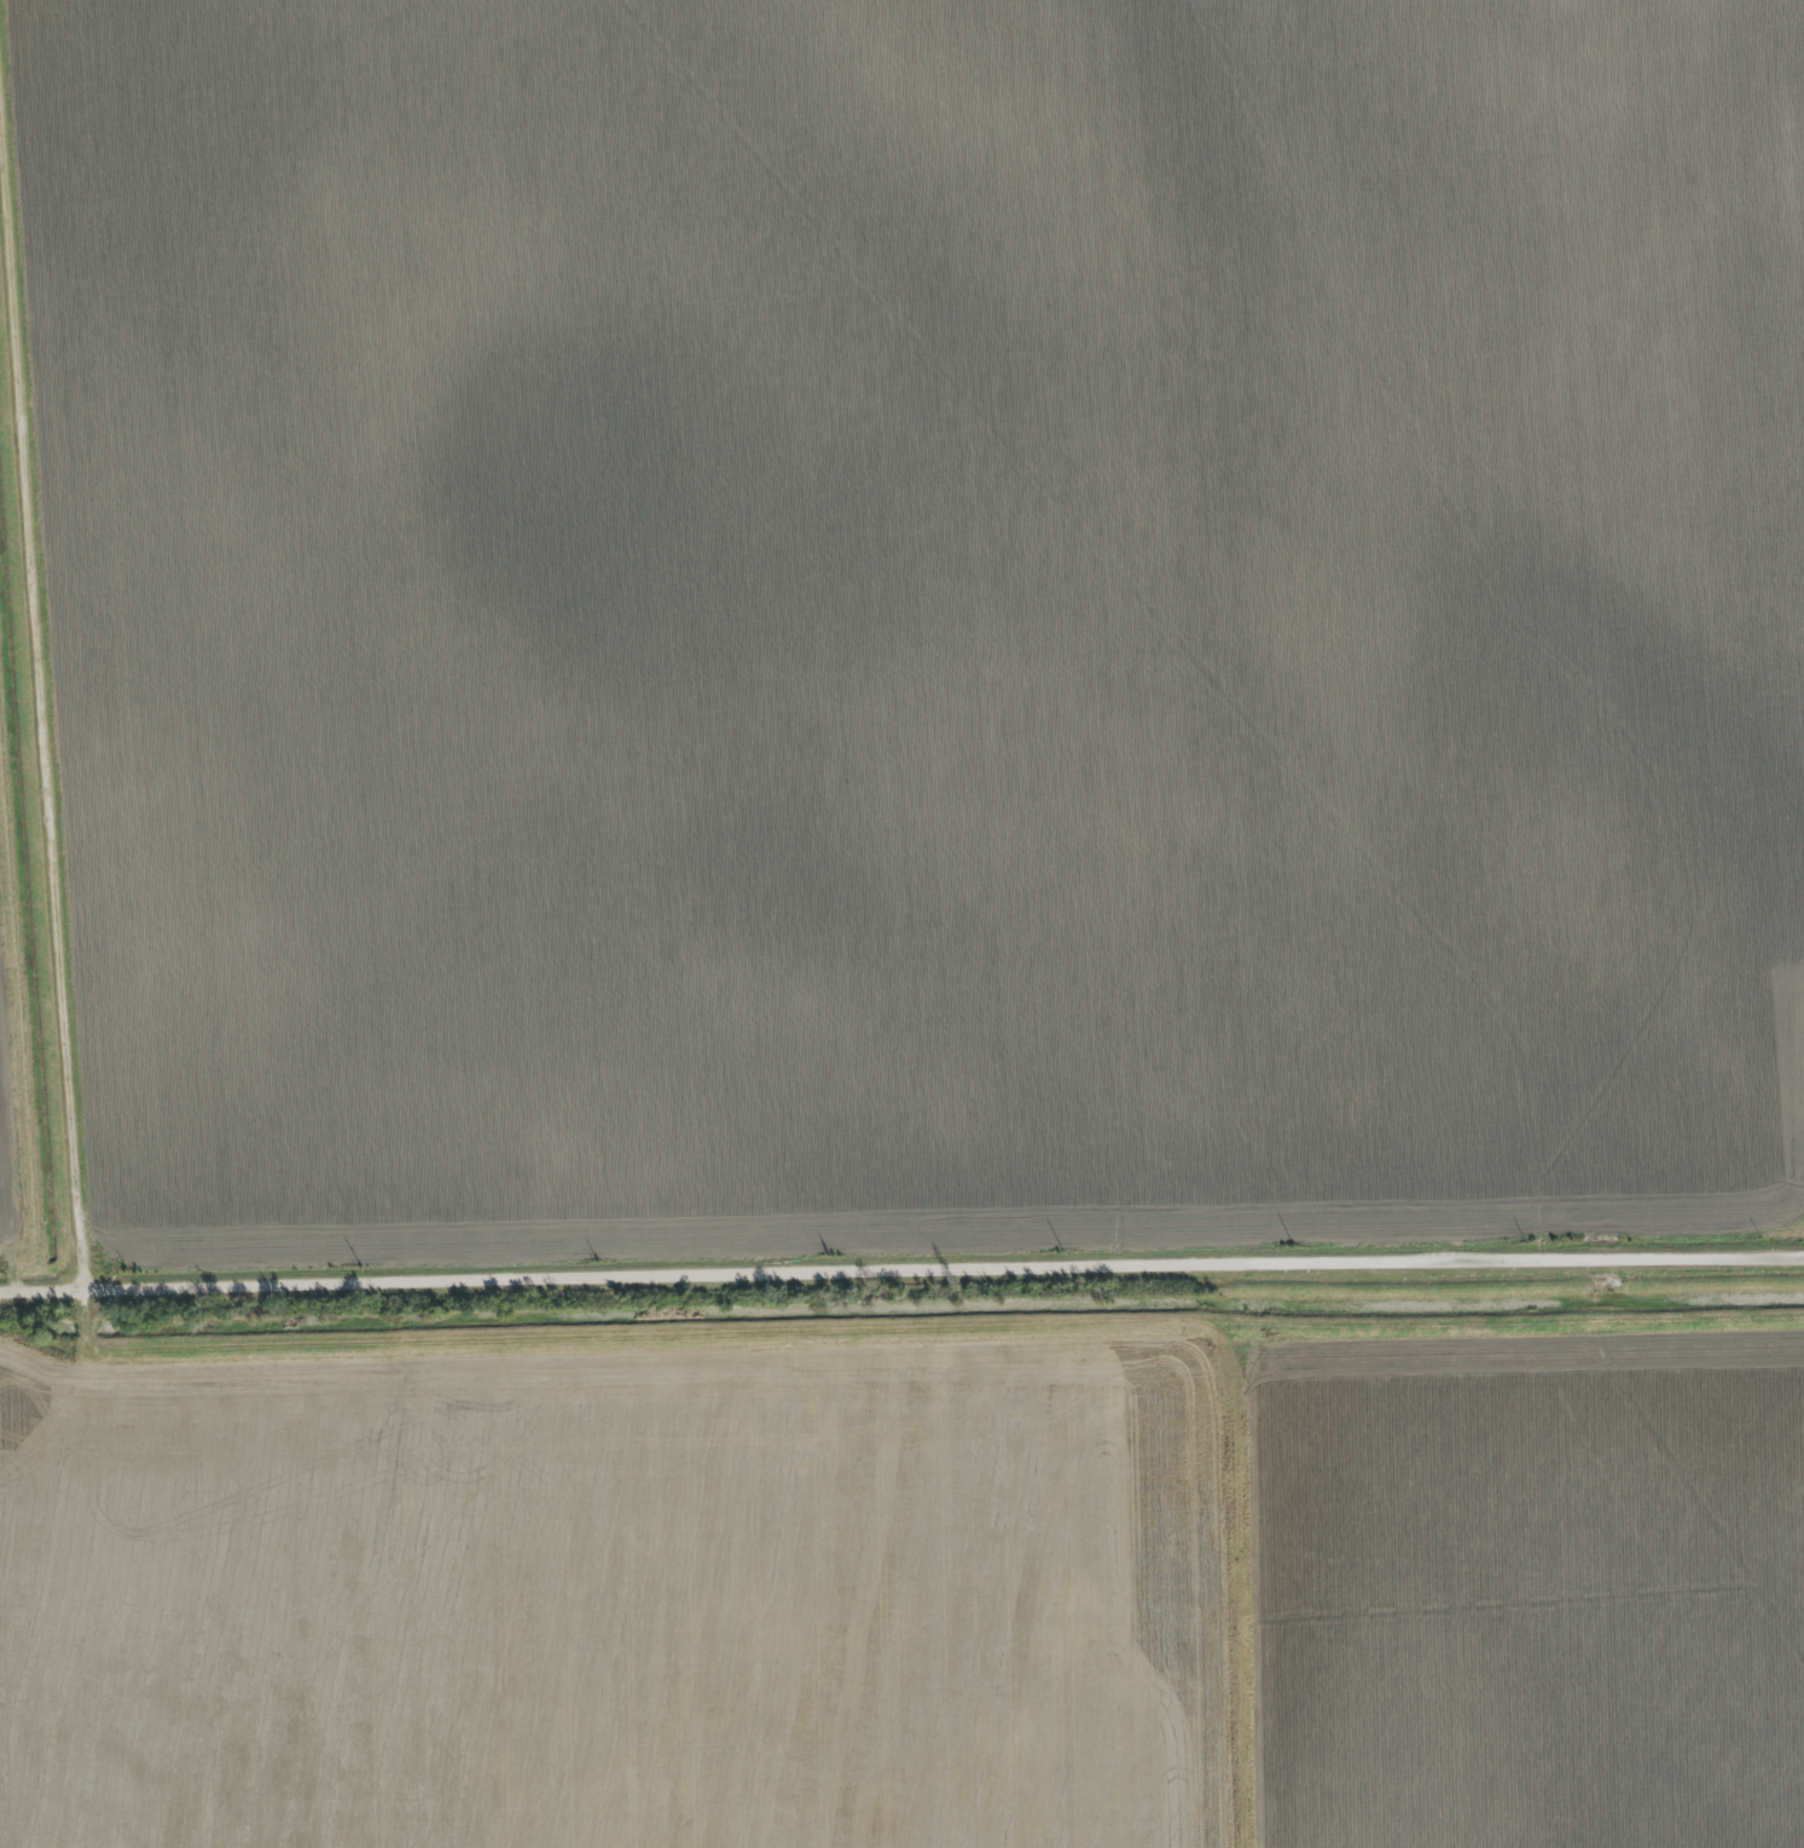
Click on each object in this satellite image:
road: (42, 671)
road: (901, 1274)

